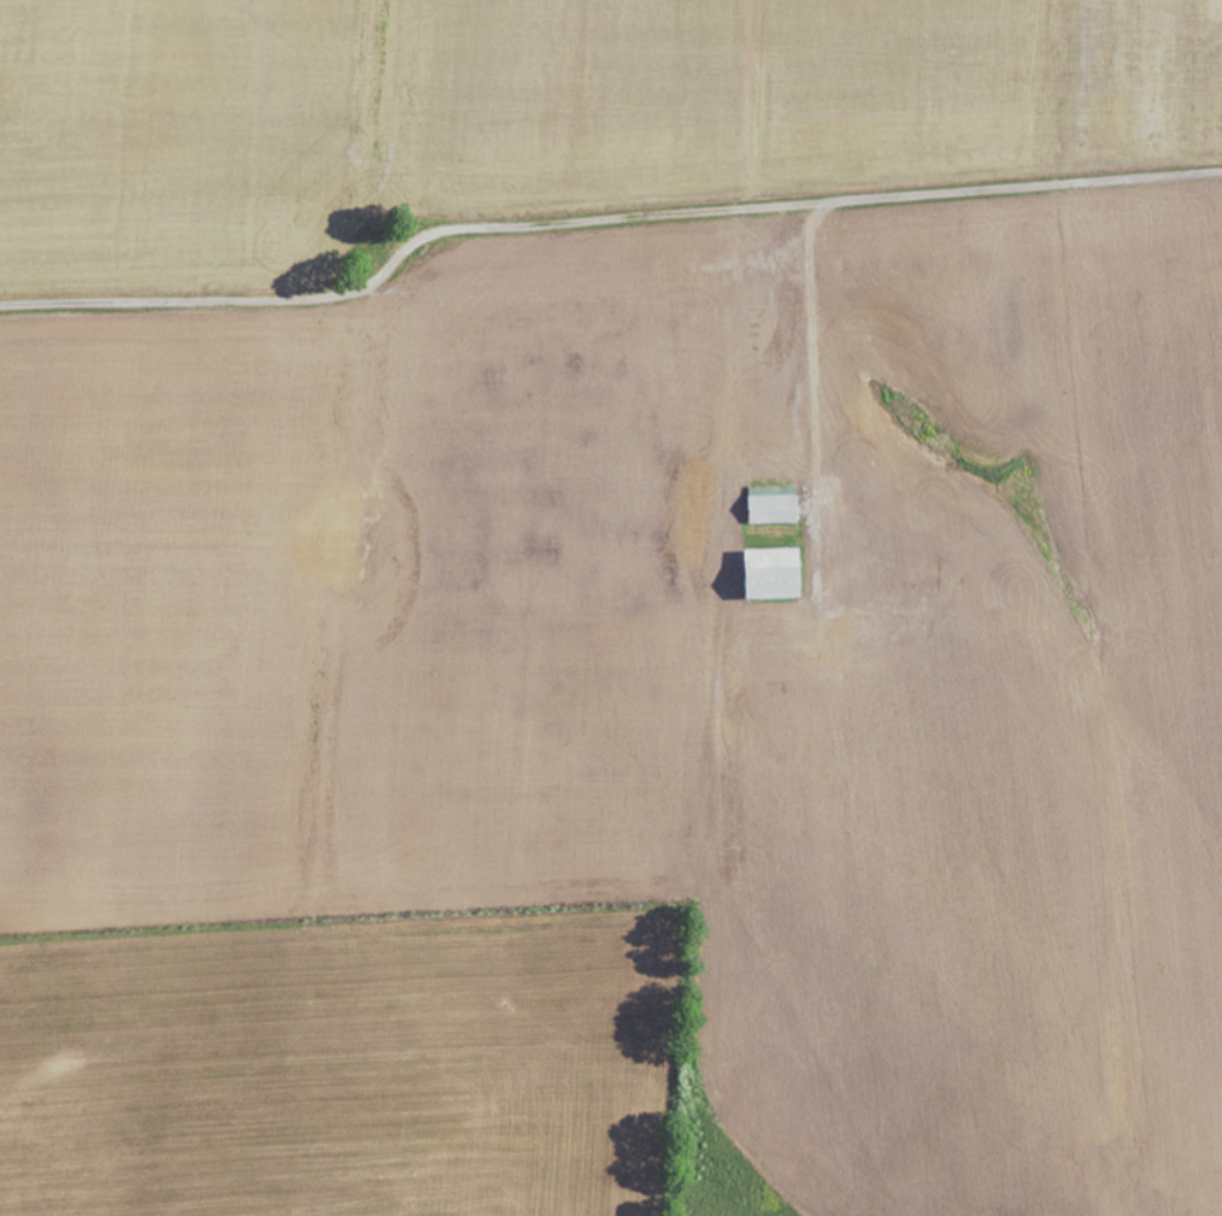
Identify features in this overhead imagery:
road: (600, 216)
road: (813, 339)
building: (771, 504)
building: (770, 574)

